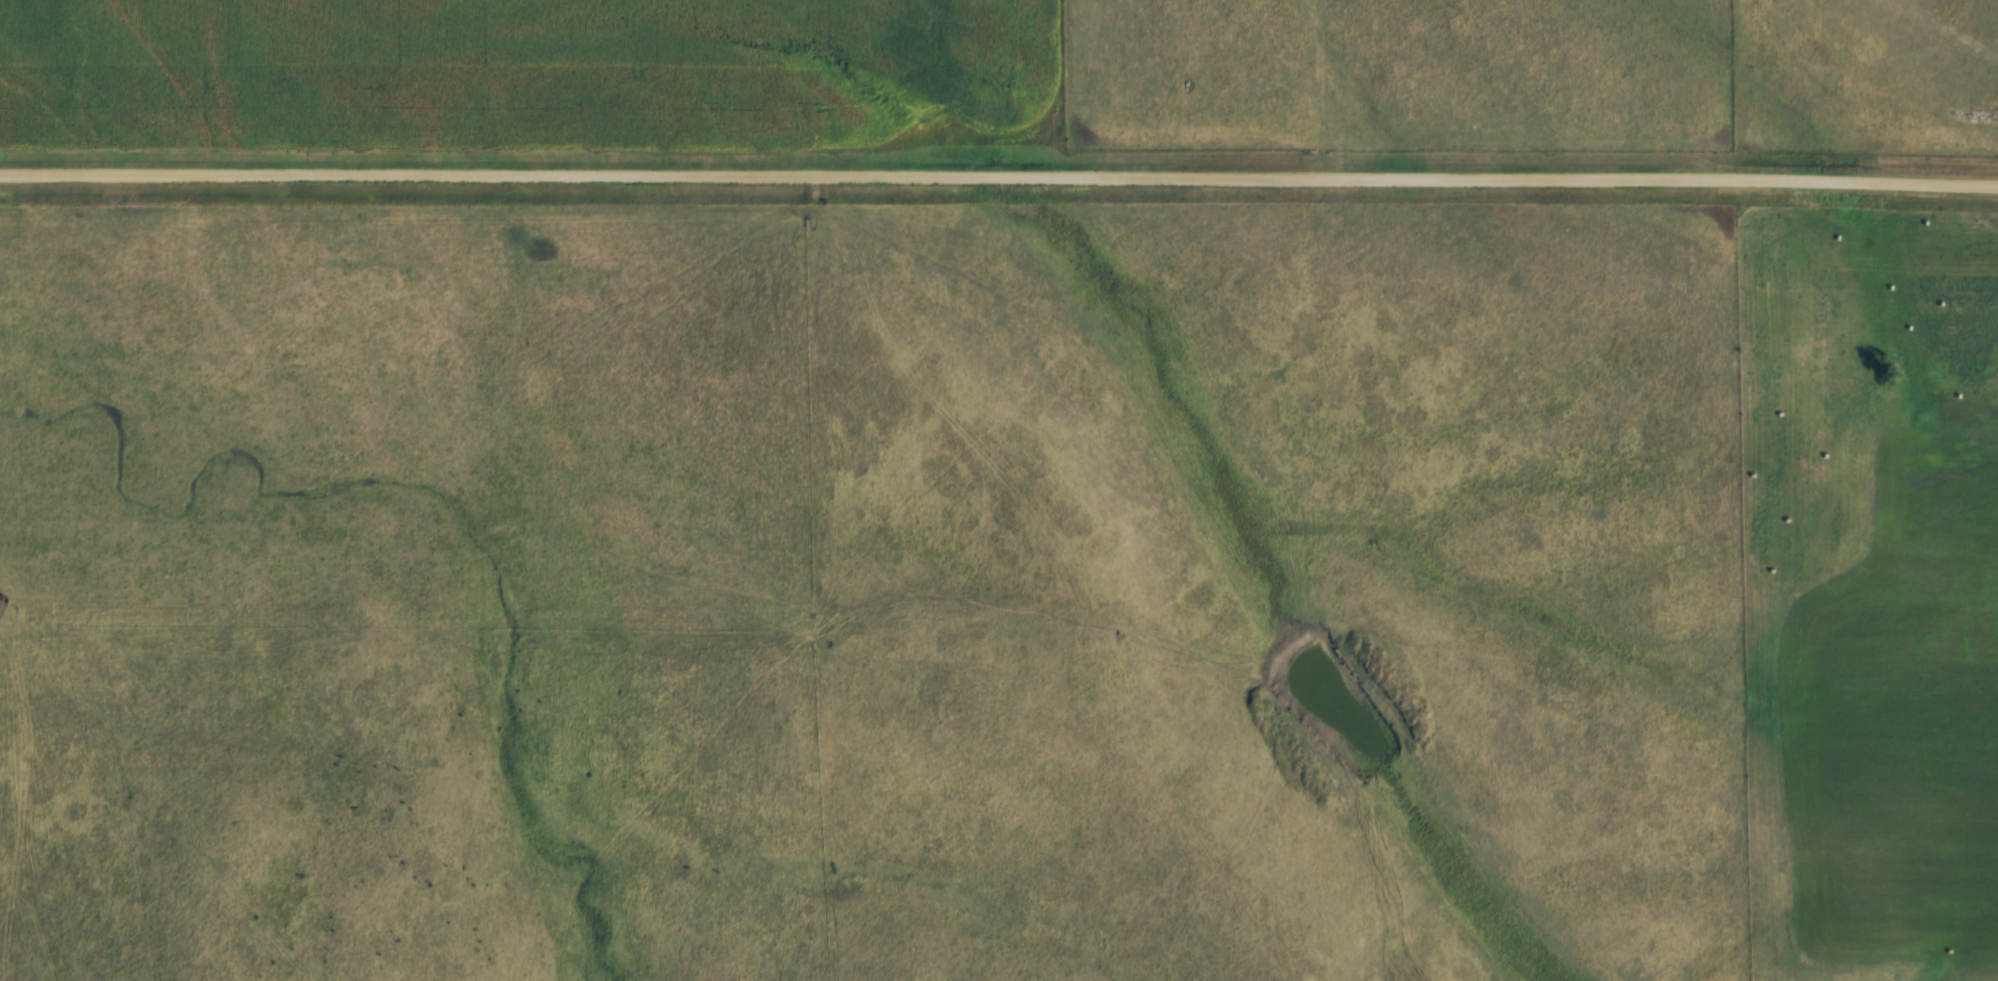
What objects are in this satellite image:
road: (999, 174)

